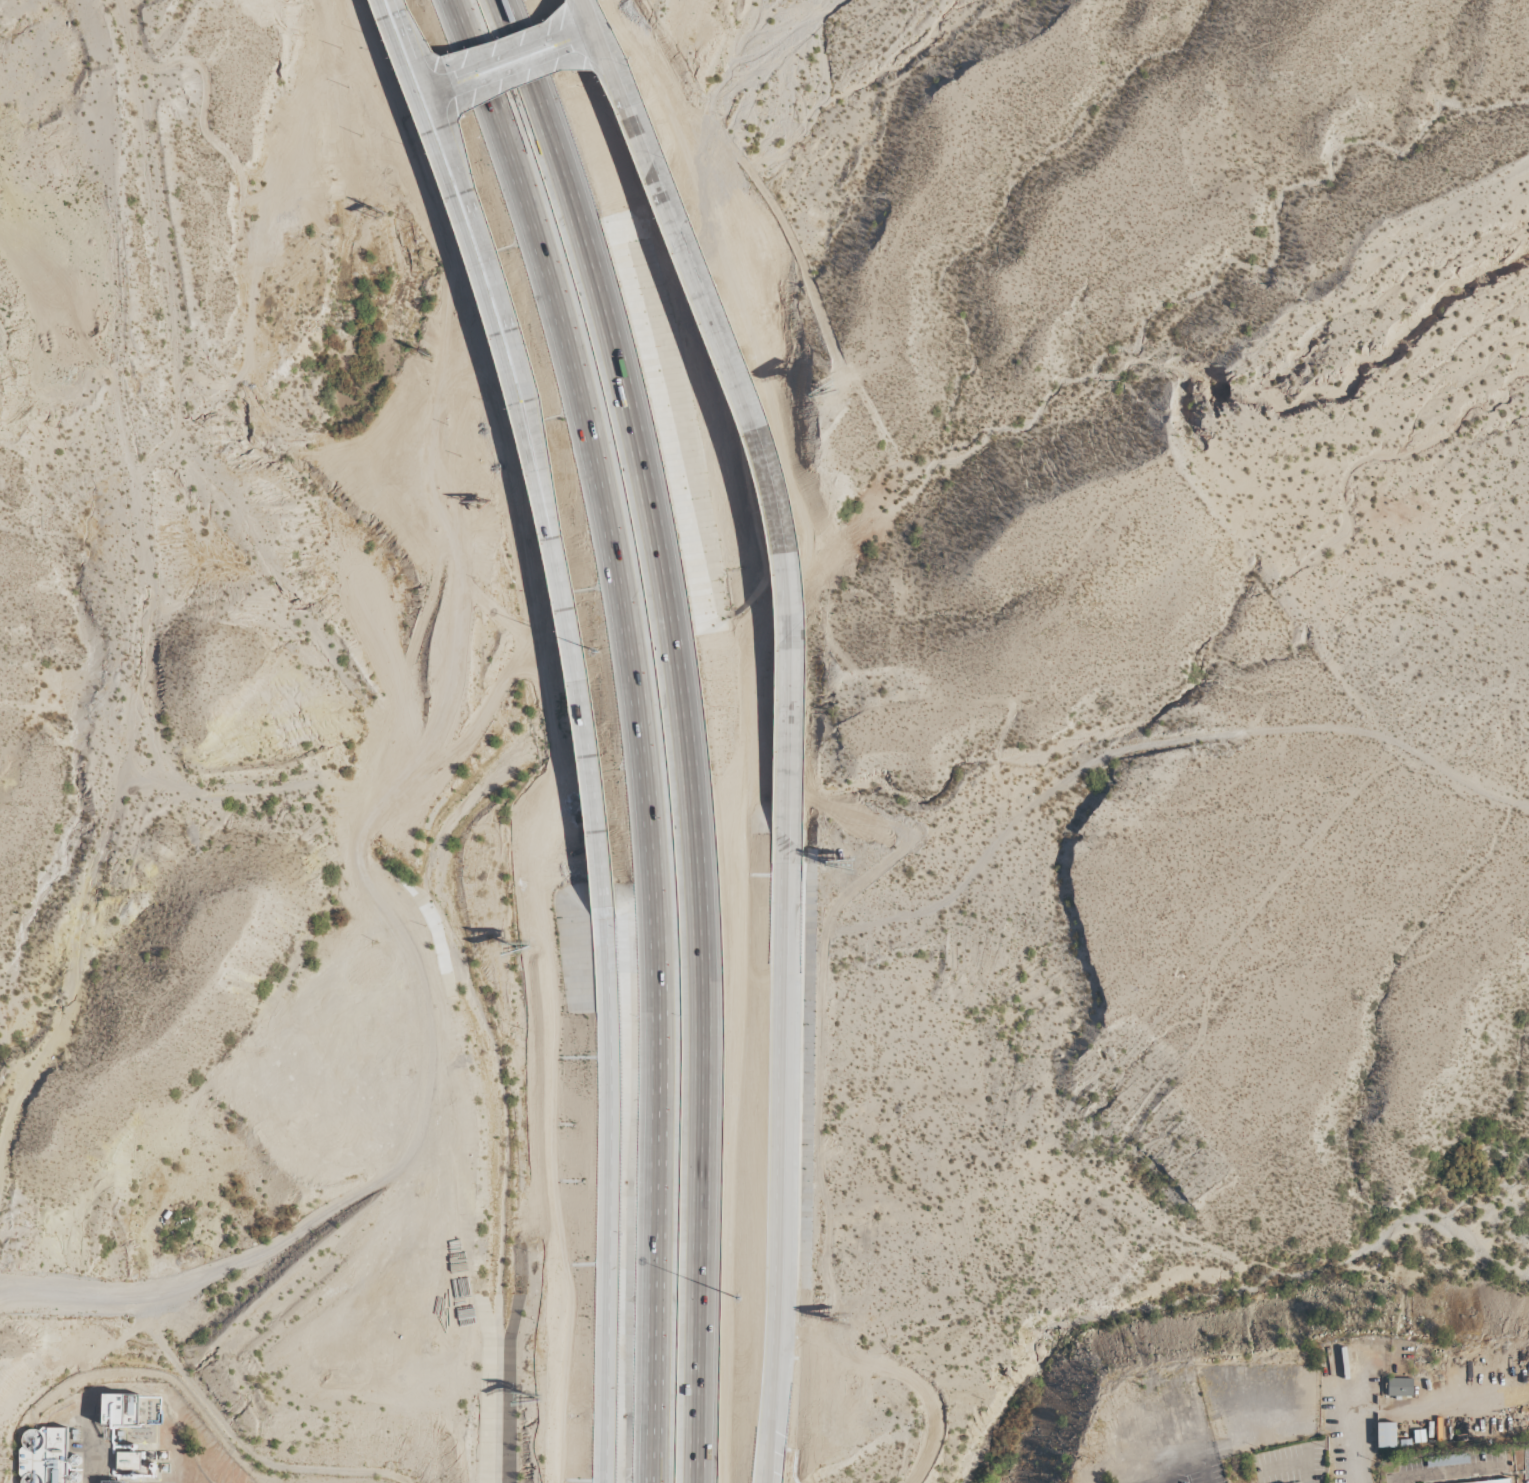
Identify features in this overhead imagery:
road: (590, 14)
road: (402, 45)
road: (751, 418)
road: (540, 494)
road: (646, 728)
road: (678, 729)
road: (782, 1159)
road: (607, 1197)
building: (1400, 1387)
building: (118, 1409)
road: (1356, 1428)
building: (1385, 1435)
wastewater plant: (123, 1440)
road: (92, 1452)
building: (44, 1456)
building: (131, 1457)
building: (1447, 1459)
road: (1296, 1463)
road: (1450, 1473)
building: (1493, 1481)

